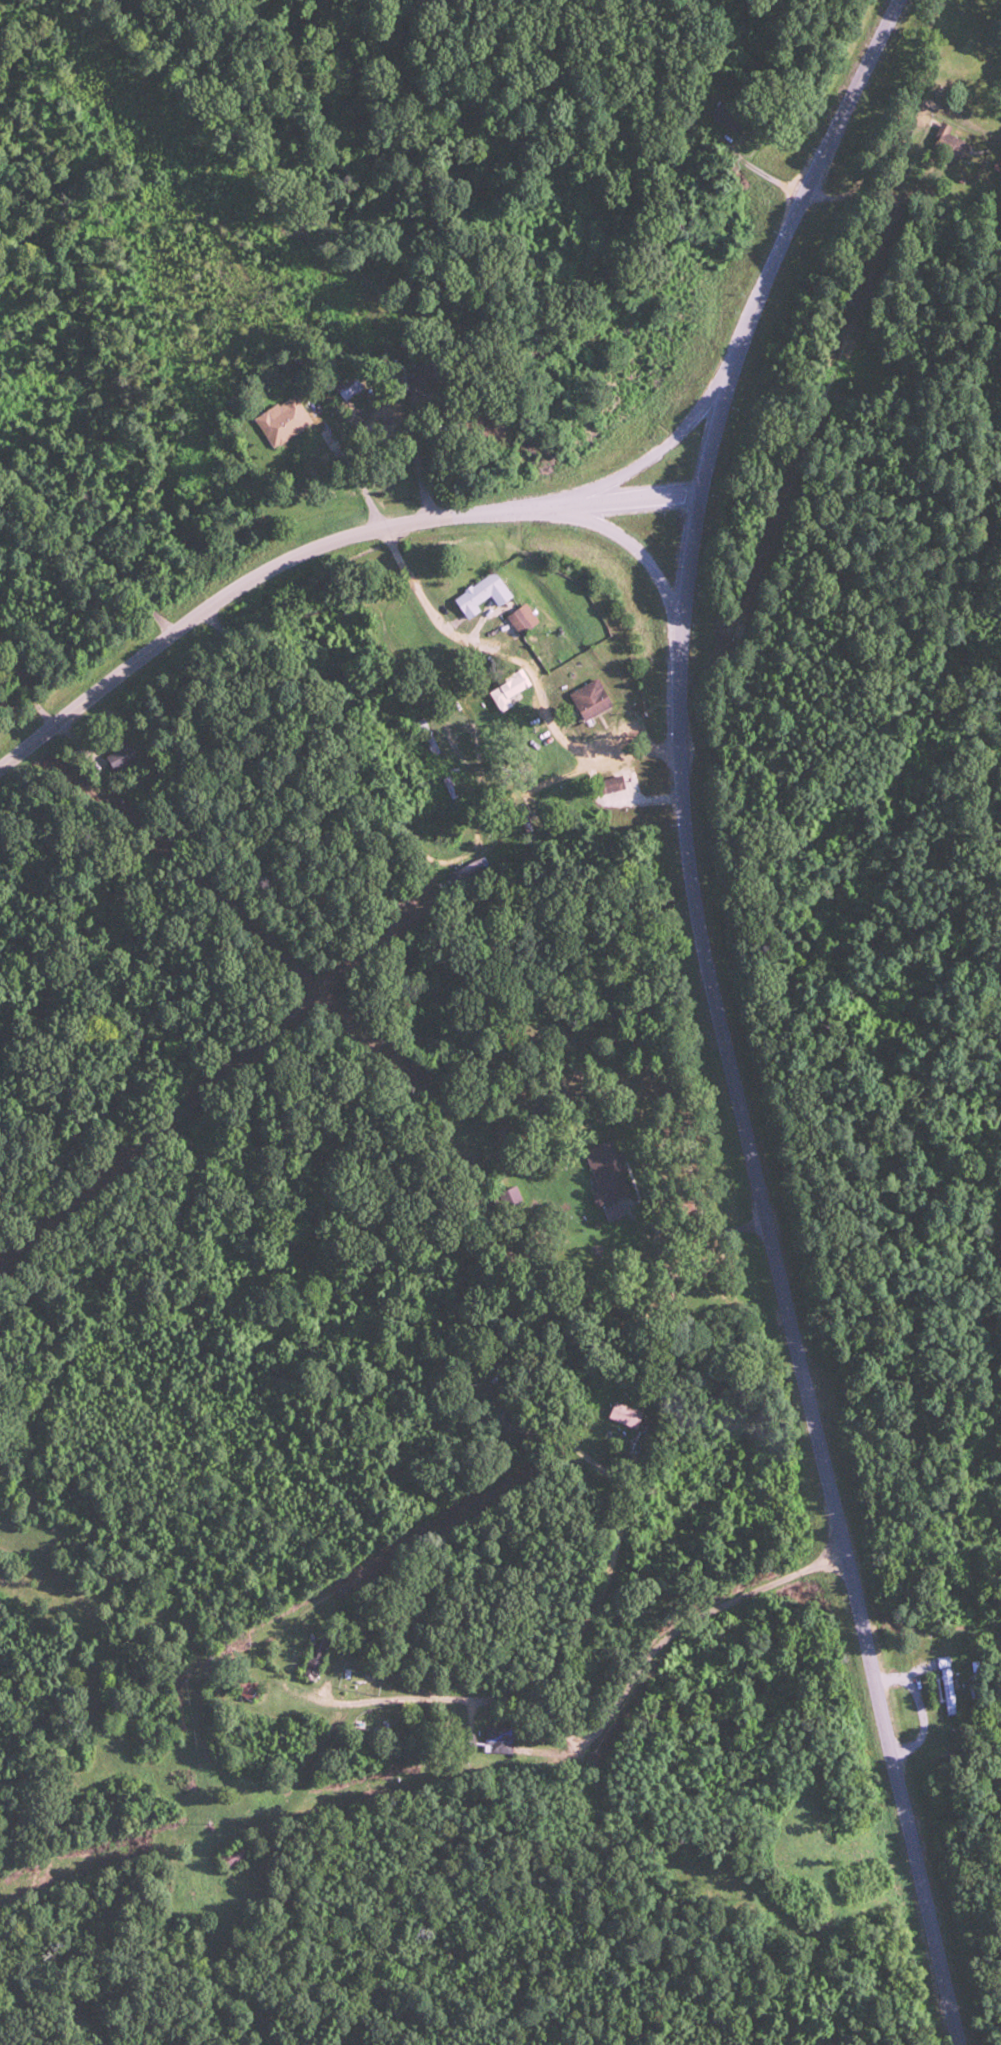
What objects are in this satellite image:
building: (729, 116)
building: (951, 142)
building: (349, 386)
building: (283, 420)
road: (646, 457)
road: (581, 505)
road: (634, 550)
building: (481, 594)
building: (519, 621)
building: (590, 699)
building: (428, 737)
building: (120, 756)
building: (611, 784)
building: (449, 787)
building: (610, 1173)
building: (511, 1200)
road: (776, 1277)
building: (627, 1415)
road: (602, 1471)
road: (729, 1607)
building: (319, 1657)
building: (942, 1662)
building: (247, 1683)
building: (947, 1689)
road: (533, 1700)
road: (614, 1718)
building: (503, 1741)
building: (239, 1855)

